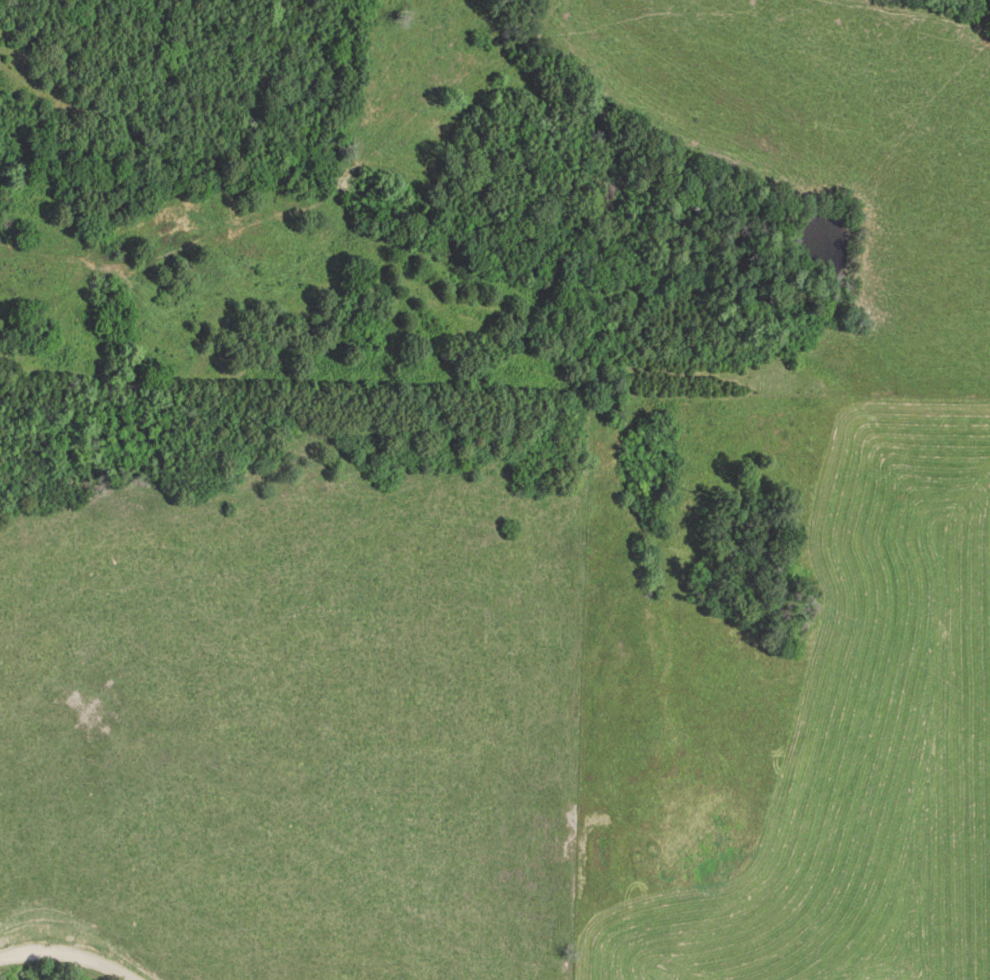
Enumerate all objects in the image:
road: (76, 963)

